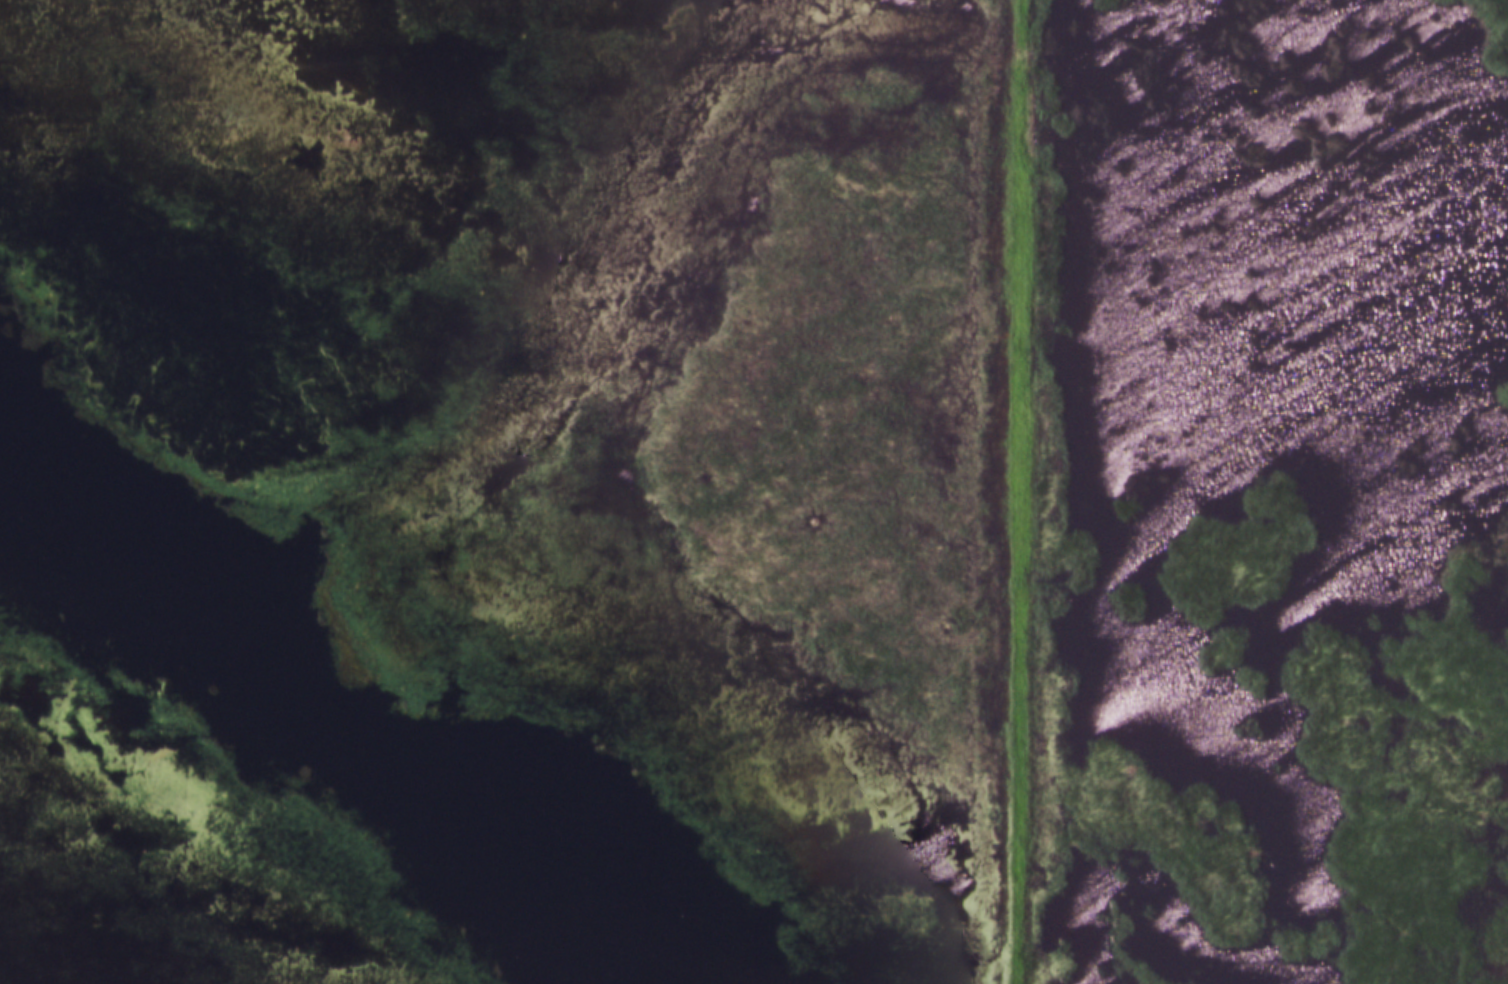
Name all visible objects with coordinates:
road: (1021, 492)

